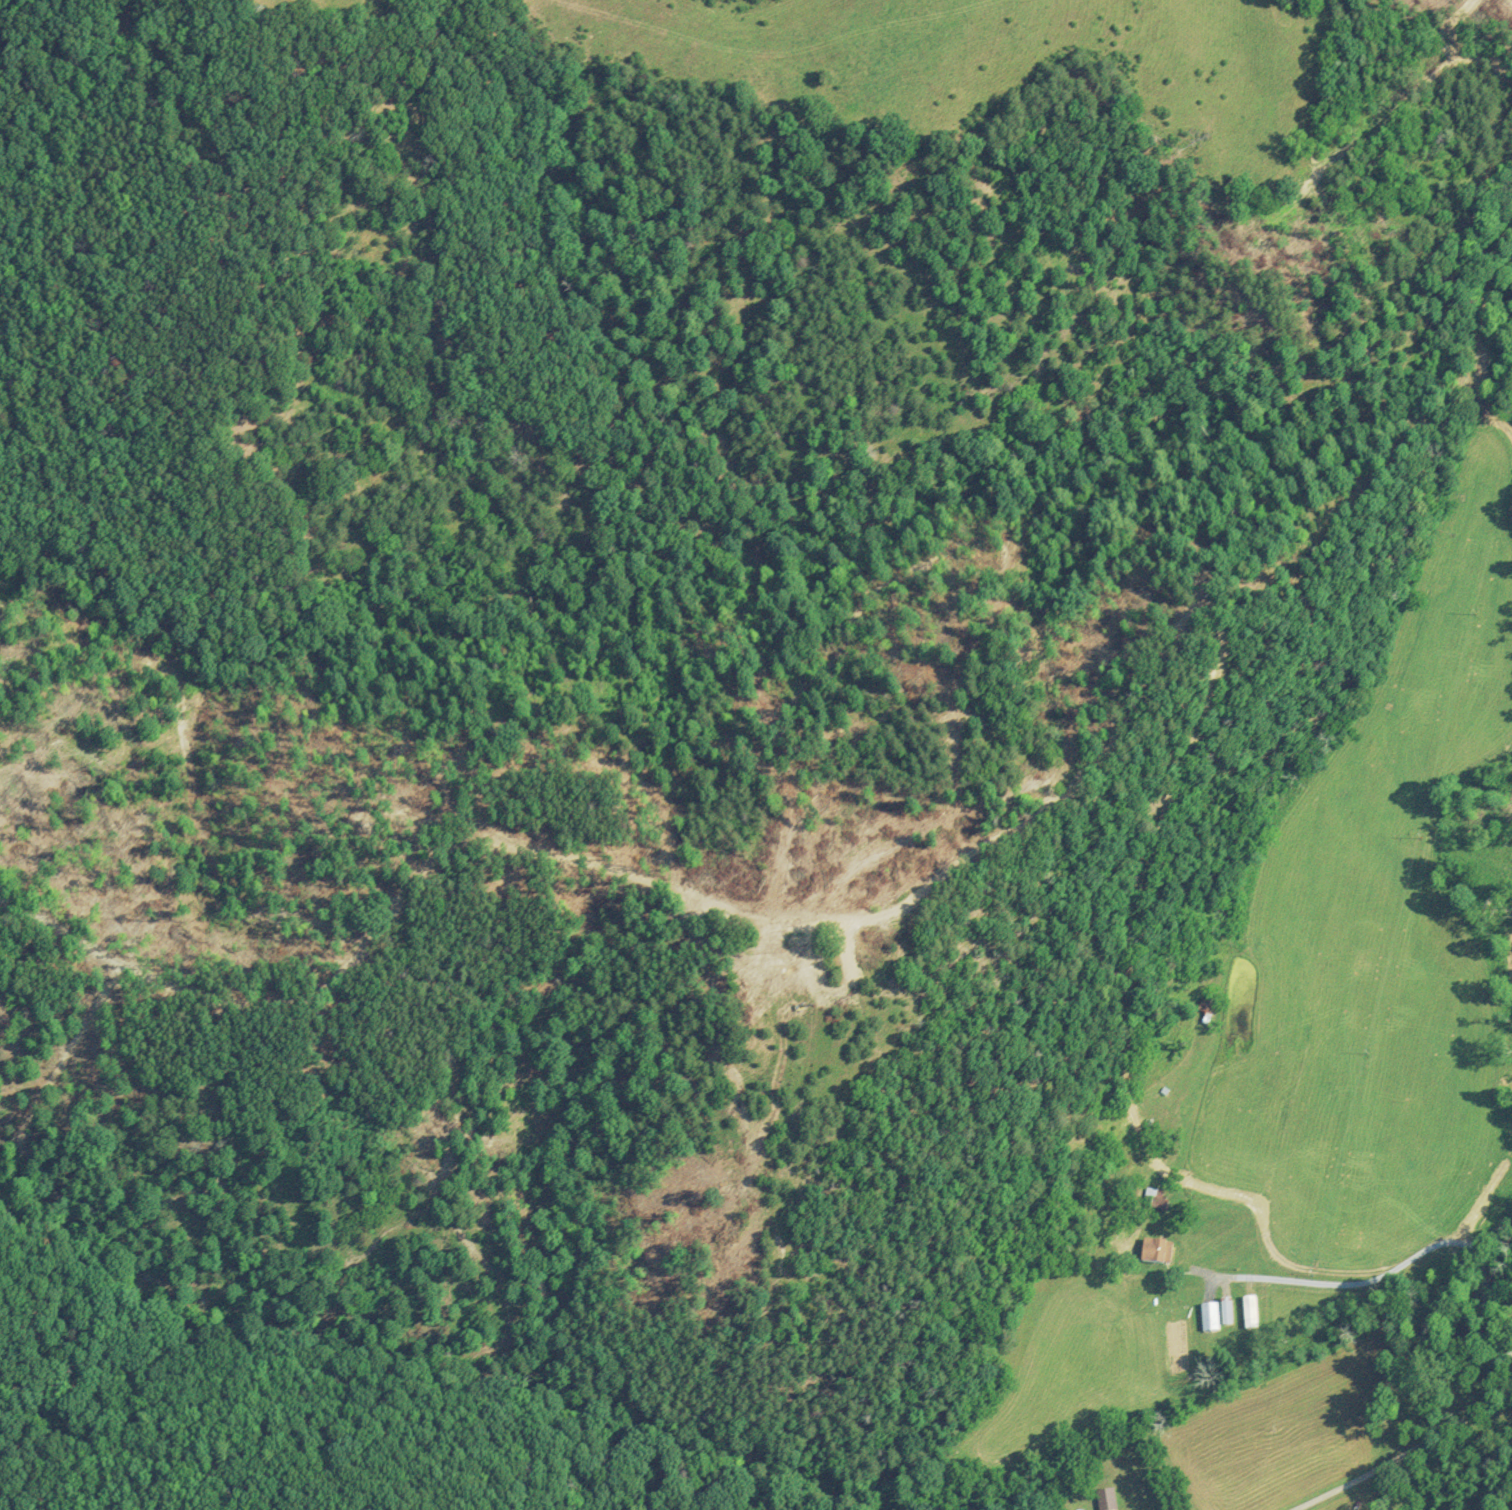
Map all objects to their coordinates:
building: (1207, 1005)
building: (1175, 1145)
building: (1155, 1198)
building: (1156, 1251)
road: (1351, 1263)
building: (1226, 1311)
building: (1250, 1312)
building: (1209, 1317)
road: (1377, 1429)
building: (1105, 1499)

